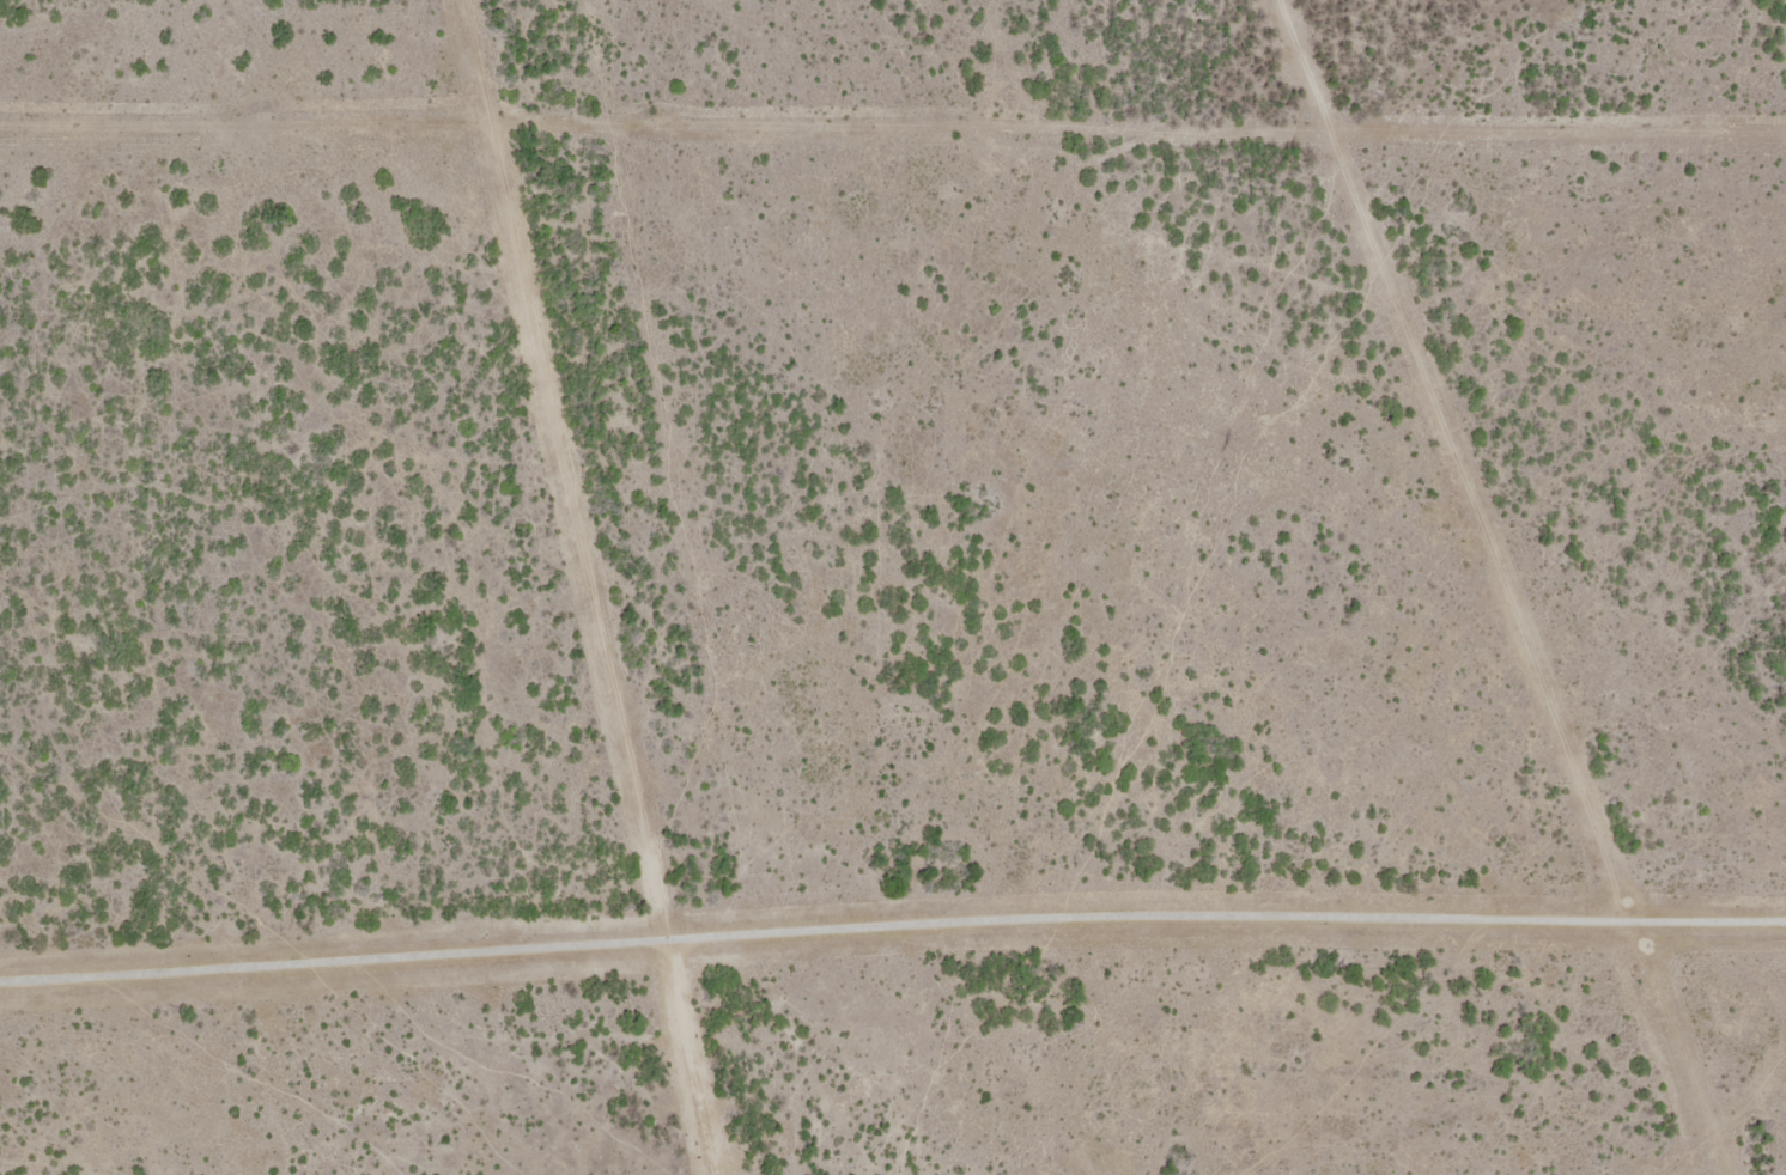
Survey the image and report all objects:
road: (892, 919)

